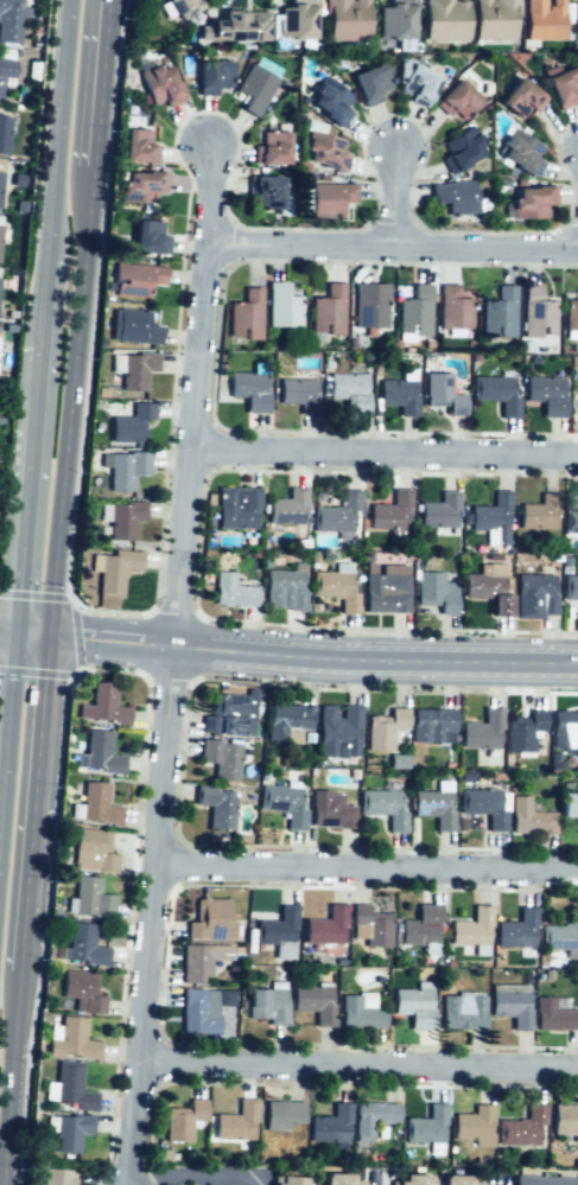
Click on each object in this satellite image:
building: (179, 6)
building: (11, 19)
building: (345, 19)
building: (294, 20)
building: (393, 20)
building: (443, 20)
building: (493, 20)
building: (542, 20)
building: (576, 23)
building: (236, 27)
building: (5, 66)
building: (211, 76)
road: (99, 81)
building: (368, 82)
building: (256, 84)
building: (159, 85)
building: (417, 85)
building: (563, 88)
building: (521, 97)
building: (455, 100)
building: (331, 101)
road: (56, 128)
building: (5, 133)
building: (136, 145)
building: (461, 146)
building: (269, 149)
building: (326, 152)
building: (520, 152)
building: (1, 185)
building: (141, 186)
building: (266, 191)
road: (399, 193)
building: (453, 195)
building: (330, 198)
building: (531, 200)
building: (147, 236)
building: (1, 241)
road: (392, 244)
building: (136, 278)
road: (42, 302)
building: (371, 304)
building: (415, 305)
building: (282, 306)
building: (453, 308)
building: (329, 311)
building: (498, 312)
building: (538, 312)
building: (244, 313)
building: (571, 316)
building: (136, 326)
building: (135, 370)
building: (250, 391)
building: (349, 391)
building: (400, 391)
building: (496, 391)
building: (300, 393)
building: (443, 393)
building: (546, 393)
road: (70, 400)
building: (132, 422)
road: (385, 448)
building: (127, 469)
road: (26, 491)
building: (234, 509)
building: (288, 509)
building: (392, 511)
building: (439, 512)
building: (338, 514)
building: (538, 514)
building: (491, 516)
building: (125, 518)
building: (574, 520)
building: (114, 571)
building: (284, 587)
building: (335, 590)
building: (489, 590)
building: (570, 590)
building: (231, 592)
building: (385, 592)
building: (436, 592)
building: (534, 593)
road: (34, 594)
road: (72, 600)
road: (7, 635)
traffic signals: (15, 635)
road: (76, 635)
road: (32, 636)
traffic signals: (49, 638)
road: (113, 641)
road: (377, 661)
road: (176, 663)
road: (91, 668)
road: (33, 673)
building: (102, 707)
building: (227, 716)
building: (286, 720)
building: (432, 725)
road: (7, 728)
building: (482, 728)
building: (563, 728)
building: (383, 730)
building: (523, 731)
building: (339, 732)
building: (99, 756)
building: (222, 759)
building: (398, 762)
road: (36, 784)
building: (95, 804)
building: (284, 804)
building: (216, 805)
building: (484, 805)
building: (567, 805)
building: (383, 807)
building: (434, 808)
building: (329, 809)
building: (529, 816)
building: (95, 853)
road: (367, 866)
building: (90, 896)
building: (205, 916)
building: (278, 925)
building: (371, 925)
building: (421, 925)
building: (325, 926)
building: (469, 928)
building: (517, 928)
building: (560, 935)
building: (83, 945)
road: (21, 951)
building: (201, 960)
building: (82, 992)
building: (313, 1002)
building: (267, 1005)
building: (413, 1007)
building: (512, 1008)
building: (463, 1013)
building: (552, 1013)
building: (360, 1015)
building: (196, 1017)
building: (72, 1040)
road: (360, 1066)
road: (11, 1077)
building: (70, 1087)
building: (281, 1116)
building: (566, 1117)
building: (373, 1119)
building: (184, 1122)
building: (234, 1123)
building: (331, 1126)
building: (475, 1126)
building: (427, 1127)
building: (521, 1127)
building: (68, 1130)
road: (205, 1172)
parking lot: (209, 1174)
parking lot: (375, 1176)
parking lot: (495, 1176)
road: (371, 1177)
building: (338, 1178)
building: (51, 1179)
road: (493, 1179)
building: (414, 1180)
building: (455, 1180)
building: (542, 1180)
building: (287, 1181)

